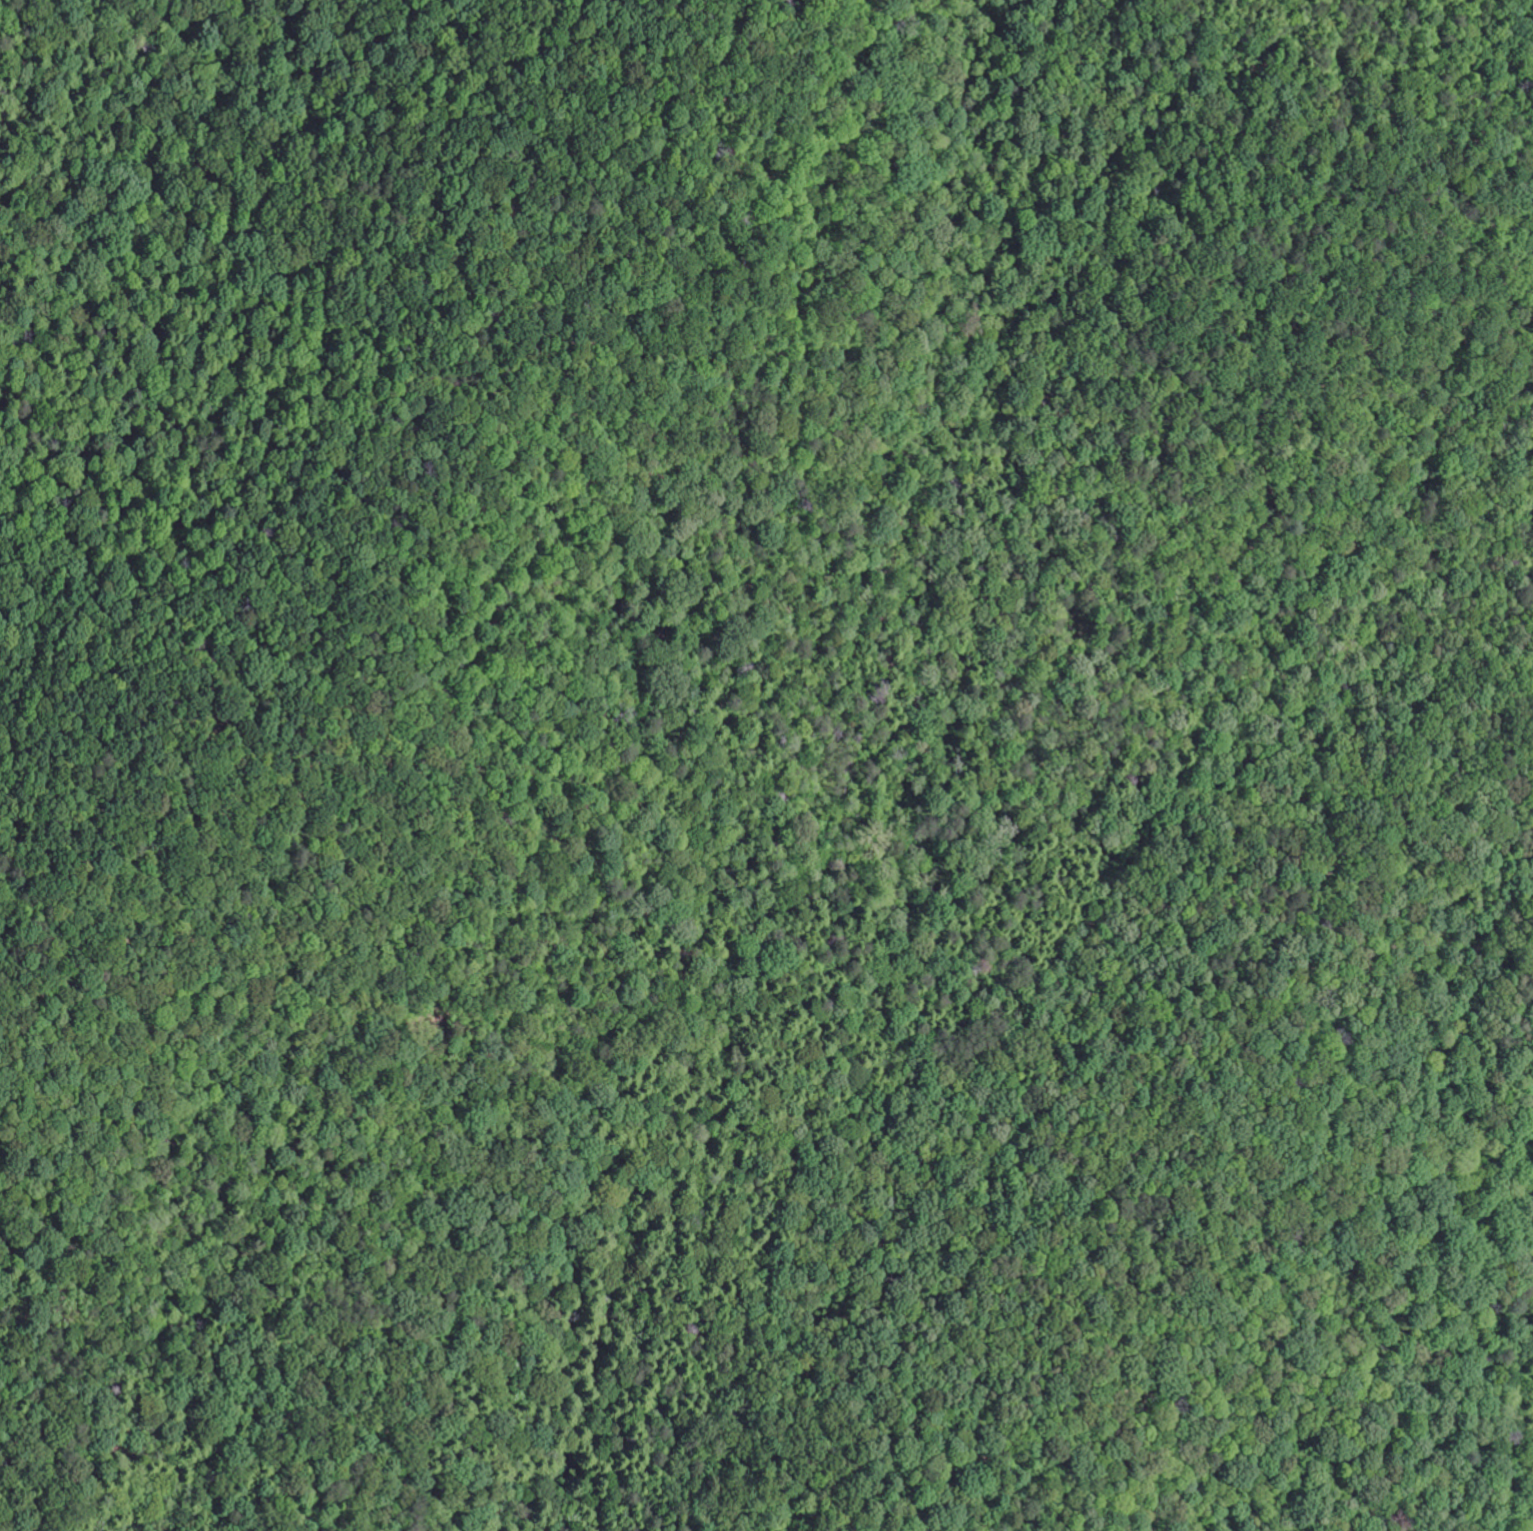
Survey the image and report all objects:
road: (1456, 55)

